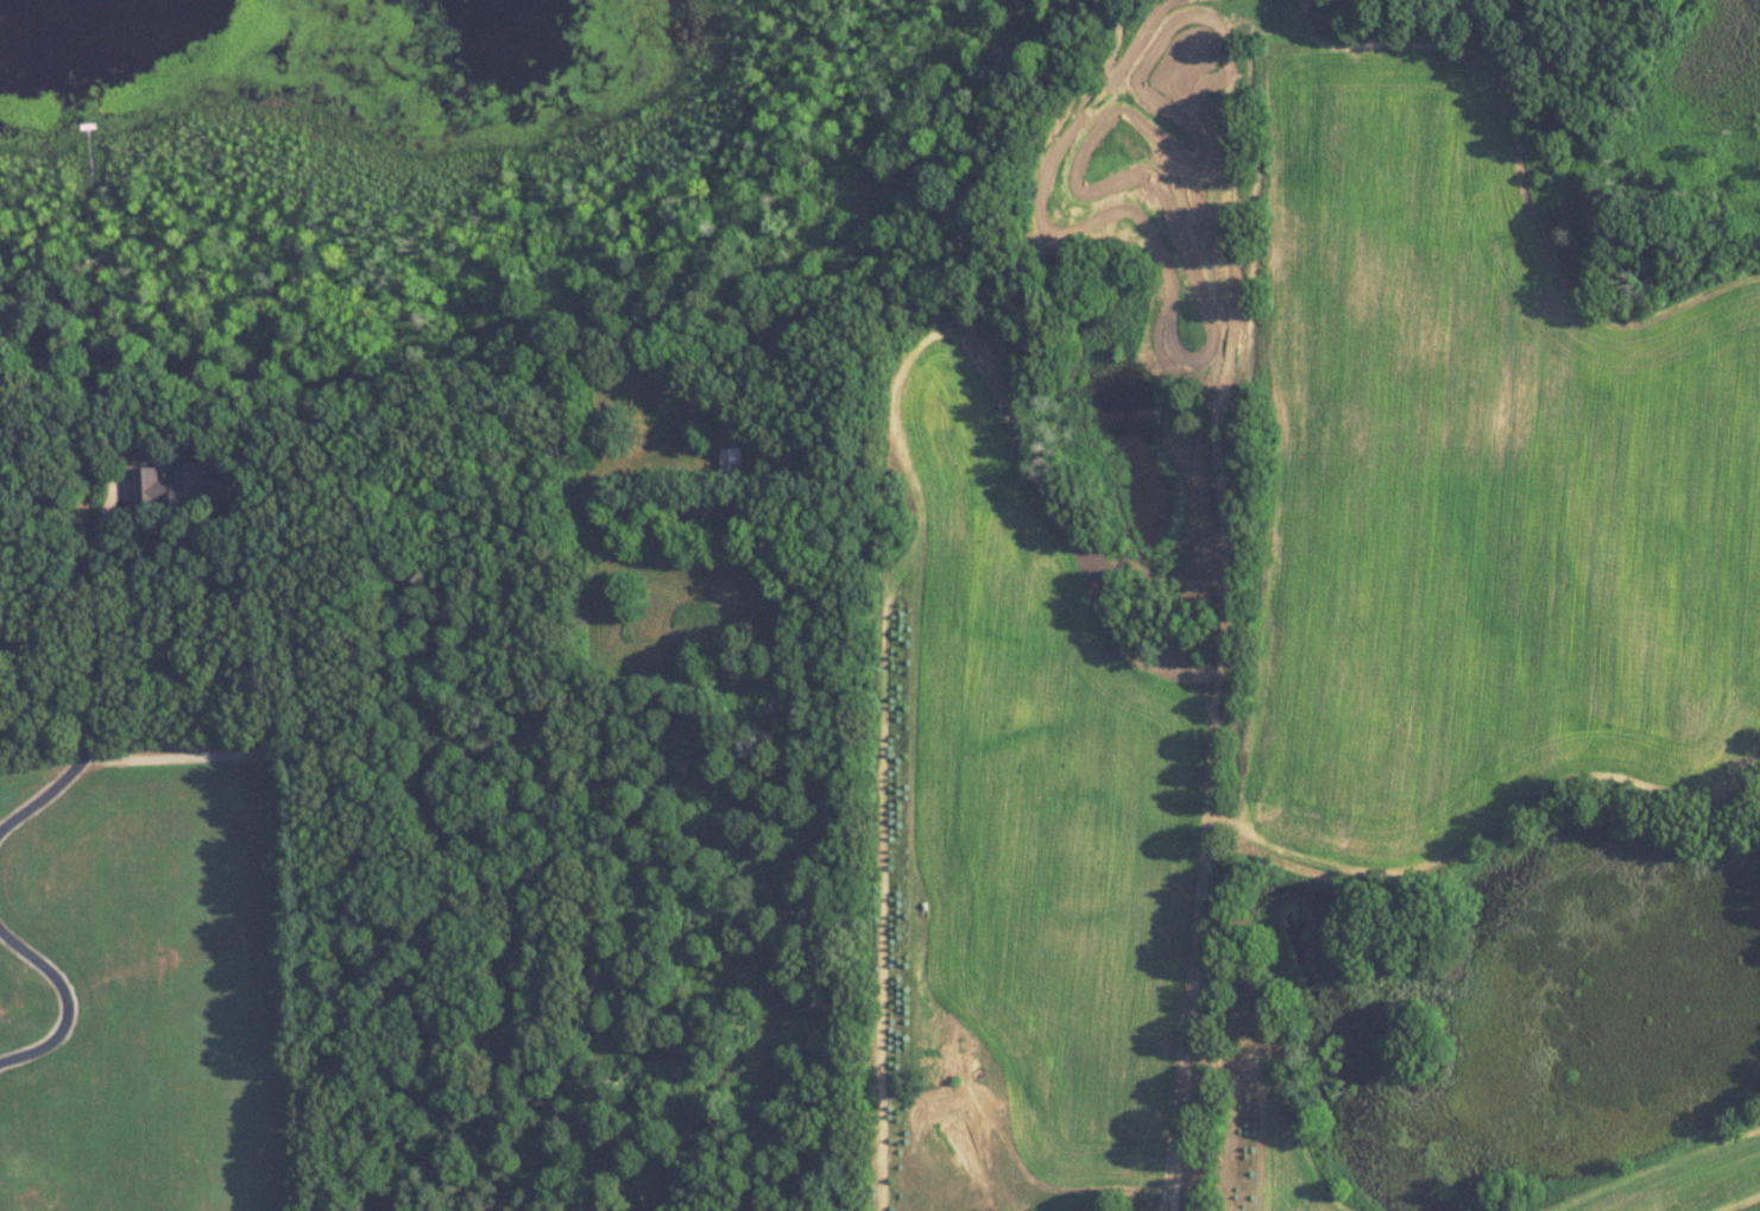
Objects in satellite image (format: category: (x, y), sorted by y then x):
building: (732, 461)
building: (183, 490)
road: (165, 531)
road: (96, 729)
road: (69, 999)

